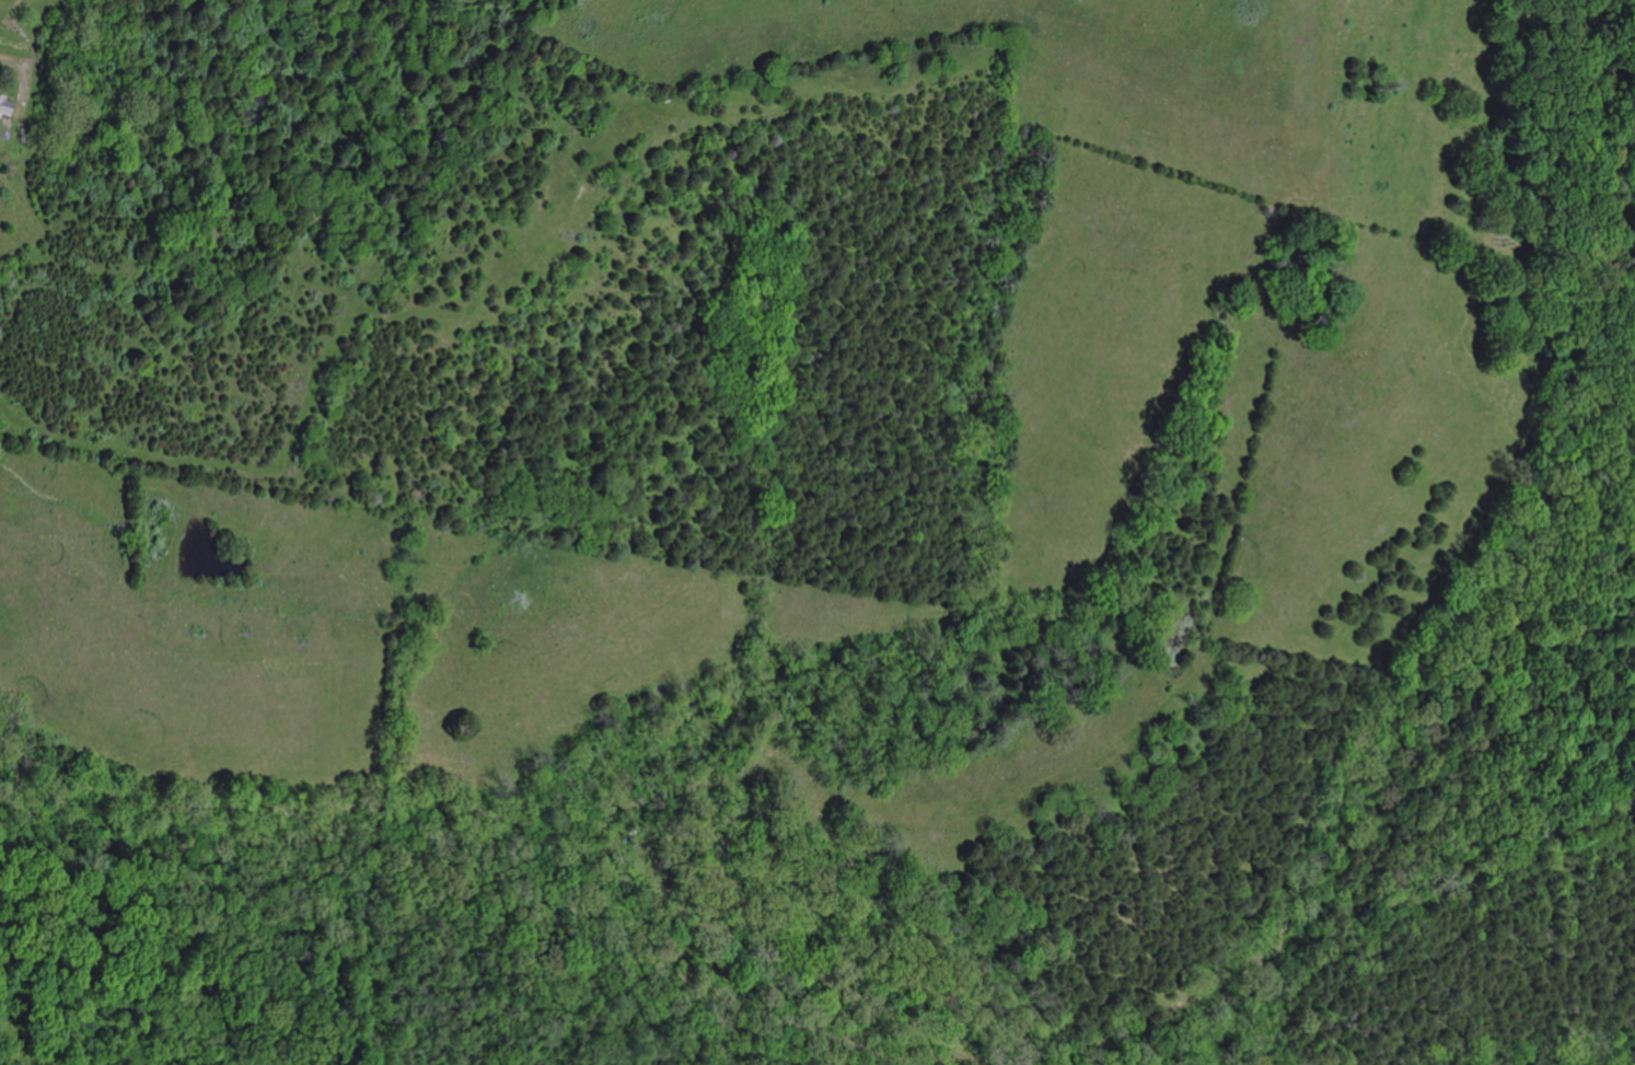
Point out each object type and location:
building: (4, 109)
building: (1, 131)
road: (317, 374)
road: (641, 800)

